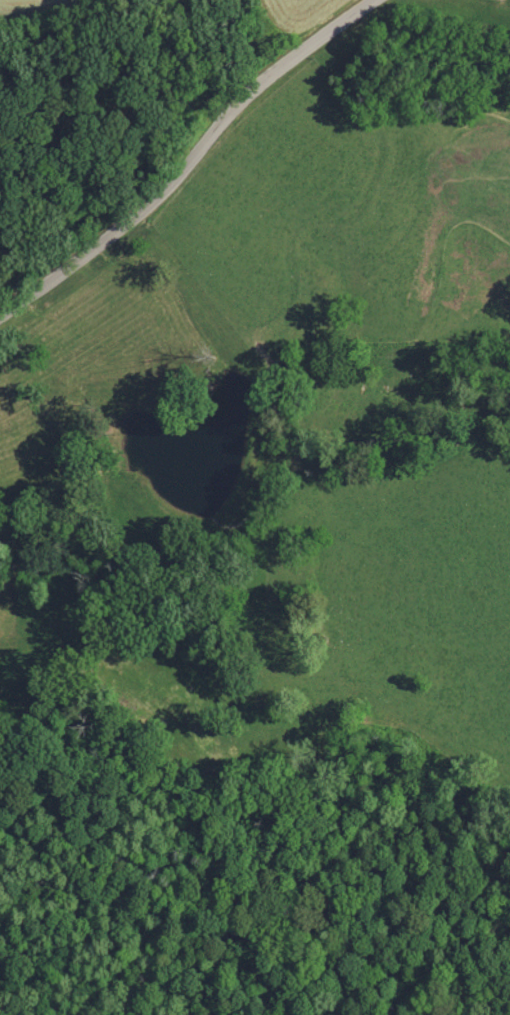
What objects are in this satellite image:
road: (192, 161)

